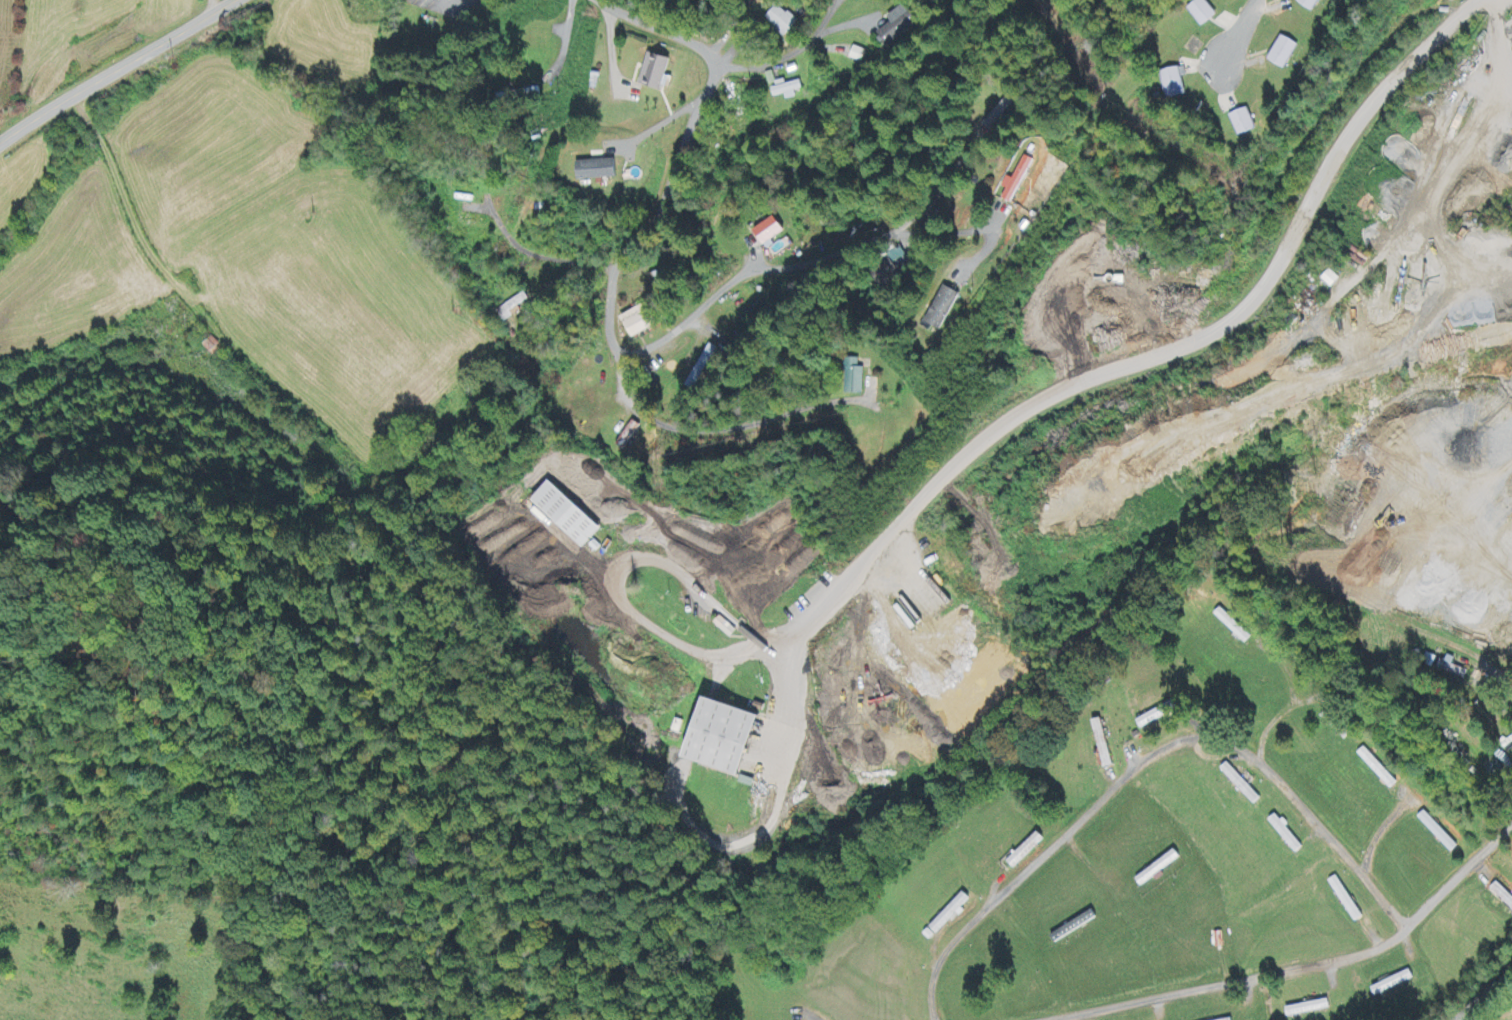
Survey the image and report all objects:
building: (1311, 4)
building: (1204, 12)
building: (782, 22)
building: (898, 27)
road: (1246, 31)
building: (1284, 52)
building: (858, 55)
road: (112, 68)
building: (657, 73)
building: (1177, 83)
building: (787, 91)
road: (698, 106)
building: (999, 113)
building: (1244, 123)
building: (600, 170)
building: (1018, 180)
building: (772, 231)
road: (768, 262)
building: (1332, 280)
building: (948, 308)
building: (512, 309)
building: (641, 321)
building: (212, 346)
road: (1145, 359)
building: (855, 378)
road: (667, 425)
building: (629, 436)
building: (571, 515)
road: (1424, 624)
building: (1233, 627)
building: (1455, 669)
building: (1160, 715)
building: (729, 739)
building: (1103, 745)
road: (1143, 759)
building: (1377, 769)
building: (1241, 785)
building: (1438, 833)
building: (1287, 835)
building: (1165, 865)
road: (1458, 869)
building: (1503, 895)
building: (1346, 900)
building: (951, 914)
road: (1238, 981)
road: (1484, 996)
building: (1310, 1009)

